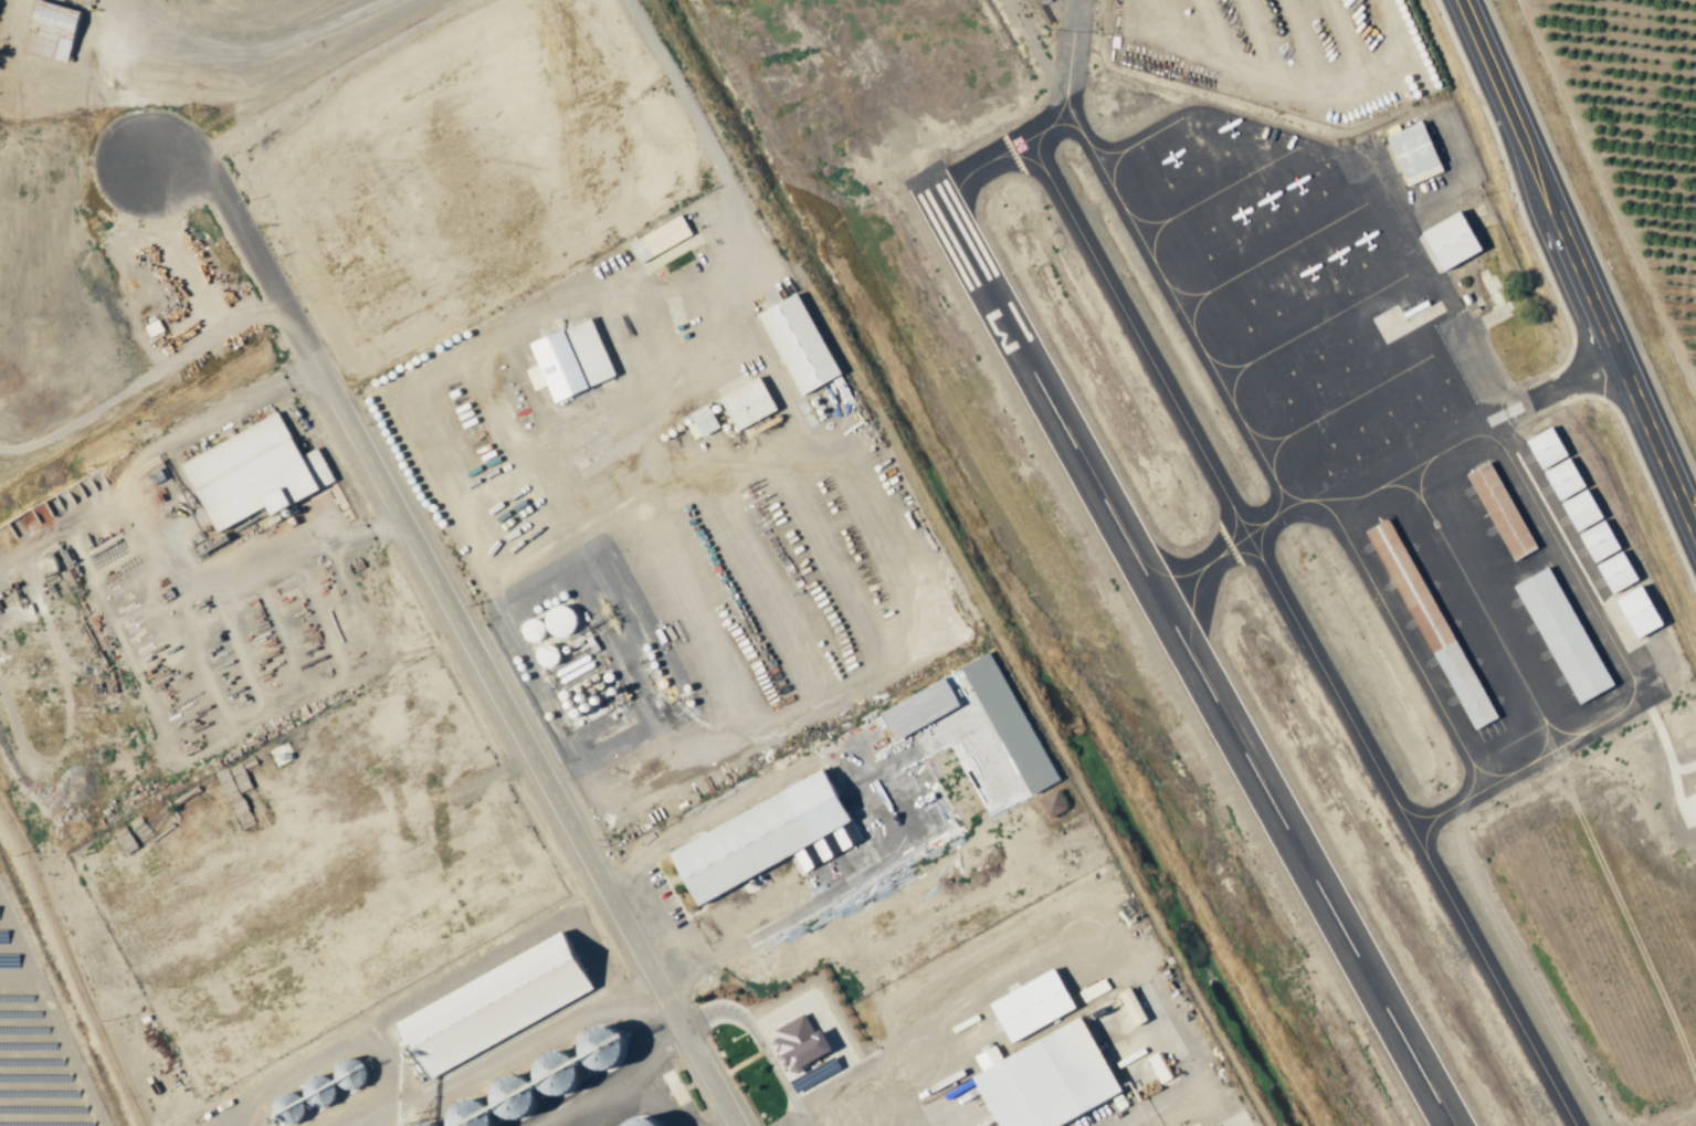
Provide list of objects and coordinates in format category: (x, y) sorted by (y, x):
building: (55, 31)
road: (1506, 105)
building: (1418, 154)
building: (283, 159)
road: (735, 198)
building: (661, 239)
building: (1456, 242)
building: (336, 249)
road: (1586, 284)
building: (155, 328)
building: (802, 343)
building: (572, 360)
road: (1567, 382)
building: (751, 402)
building: (707, 419)
road: (1657, 446)
building: (256, 473)
road: (467, 481)
road: (399, 507)
building: (1505, 511)
building: (1587, 511)
road: (160, 545)
building: (1644, 611)
building: (1567, 634)
airport runway: (1194, 639)
building: (551, 654)
building: (1695, 785)
building: (1055, 803)
building: (766, 835)
building: (501, 1003)
building: (1036, 1004)
building: (803, 1044)
road: (519, 1054)
road: (651, 1072)
building: (1050, 1078)
road: (1125, 1120)
building: (642, 1122)

